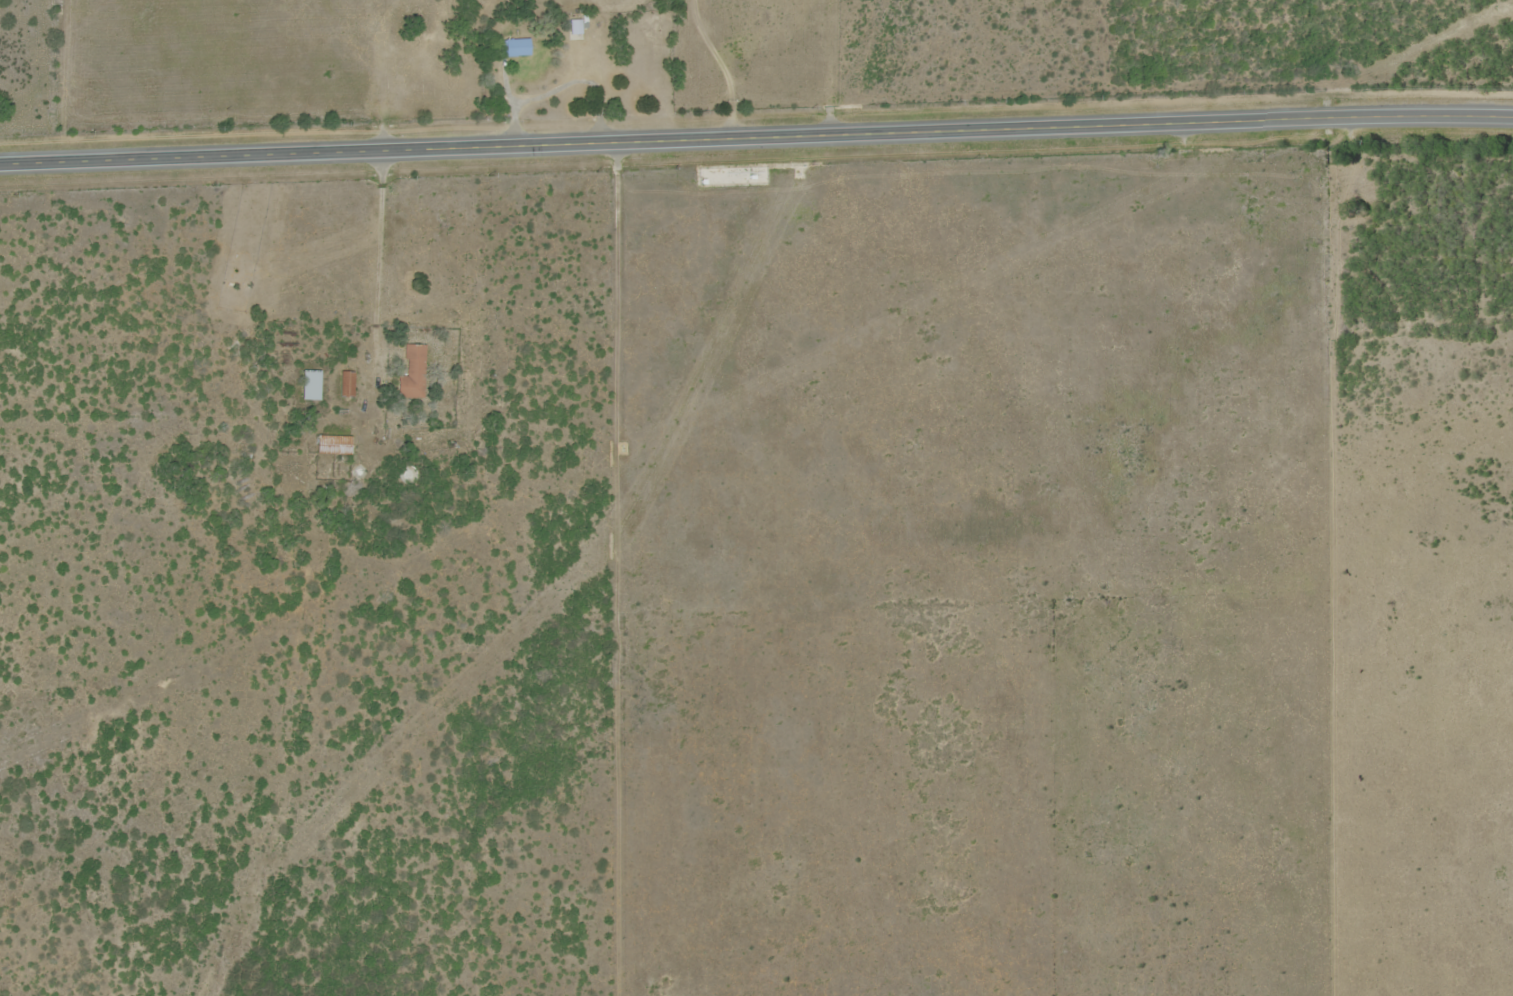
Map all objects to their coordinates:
building: (574, 28)
building: (511, 47)
road: (756, 140)
building: (408, 373)
building: (344, 383)
building: (306, 384)
building: (330, 444)

